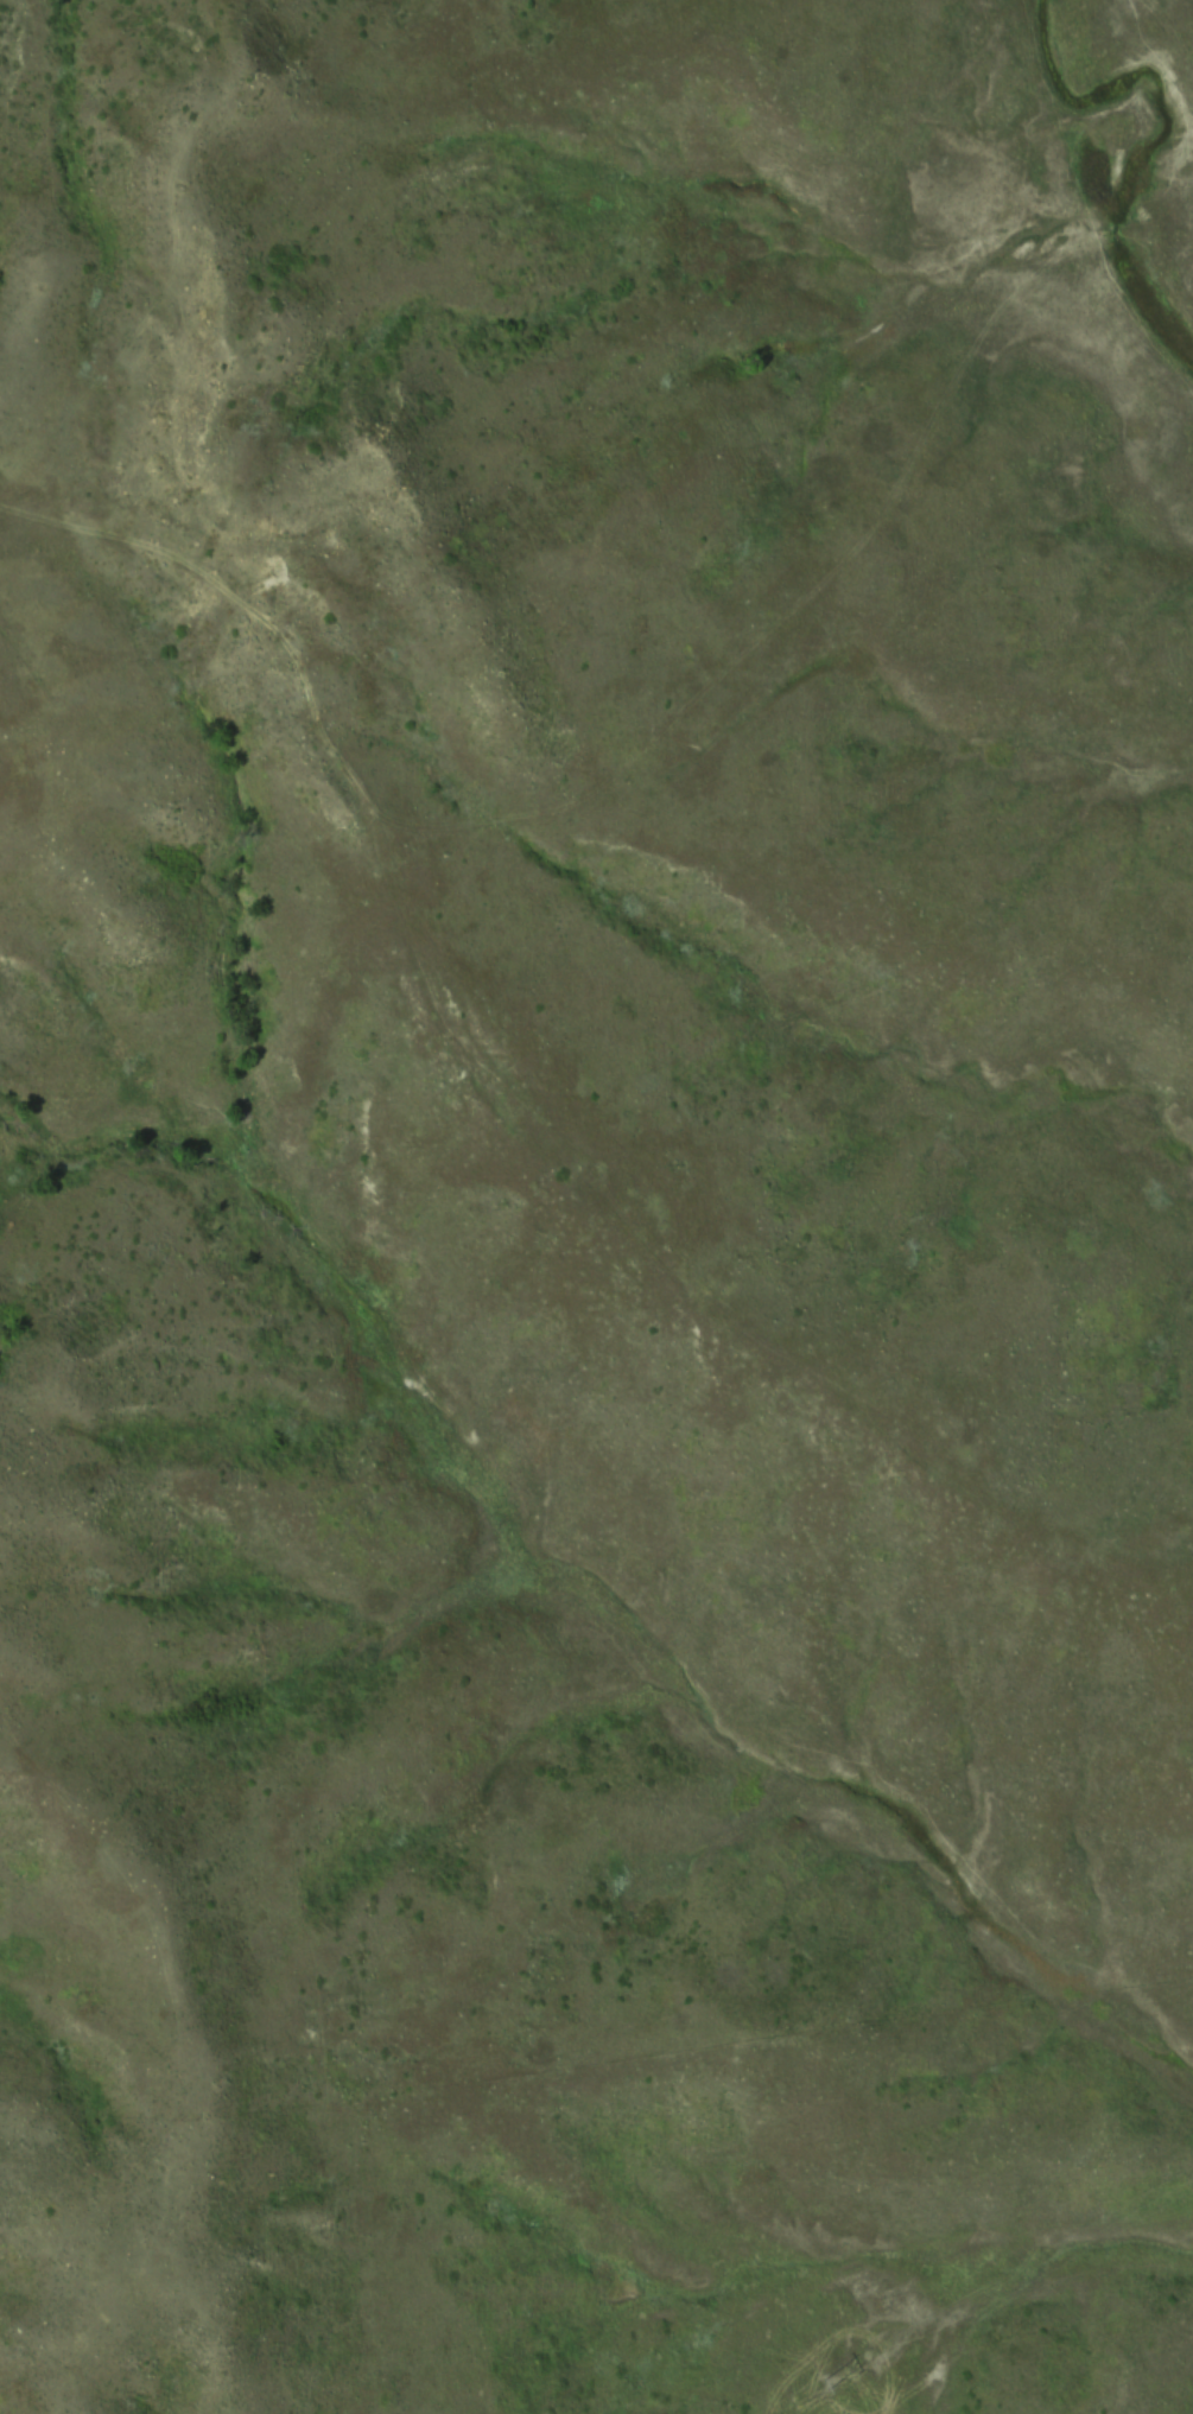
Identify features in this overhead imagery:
power tower: (829, 2387)

